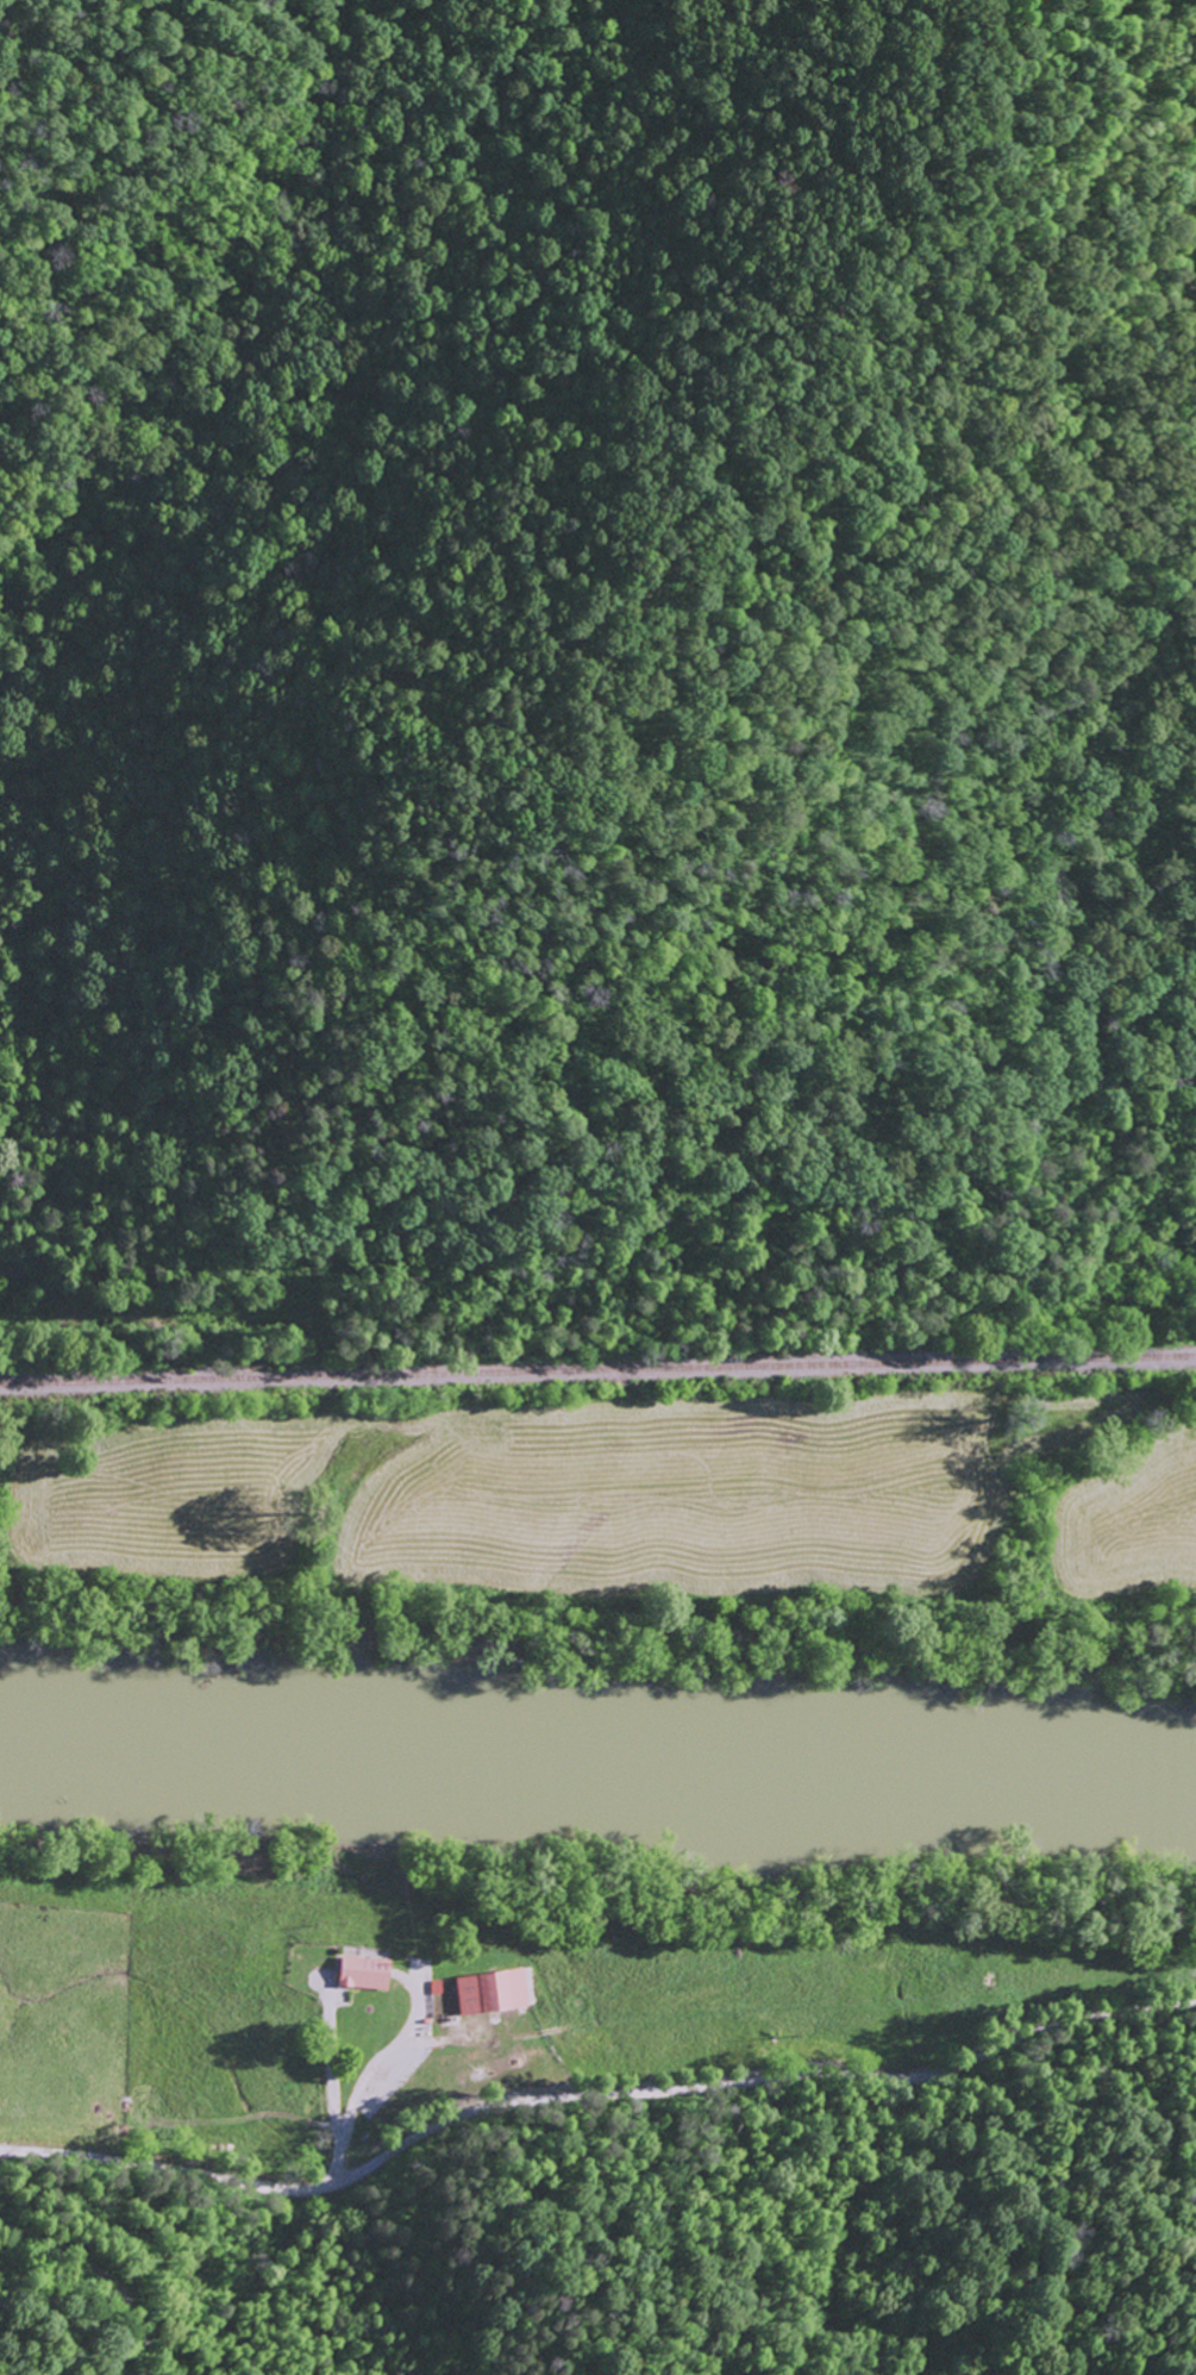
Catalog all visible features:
railway: (597, 1398)
river: (597, 1749)
building: (359, 1973)
building: (489, 1990)
road: (590, 2094)
road: (242, 2287)

